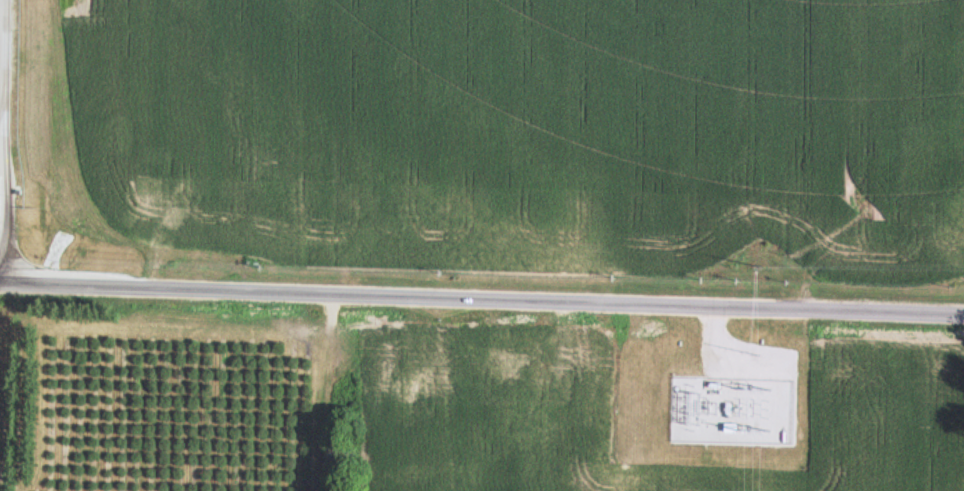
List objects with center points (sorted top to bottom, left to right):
road: (0, 18)
road: (482, 299)
power substation: (732, 401)

